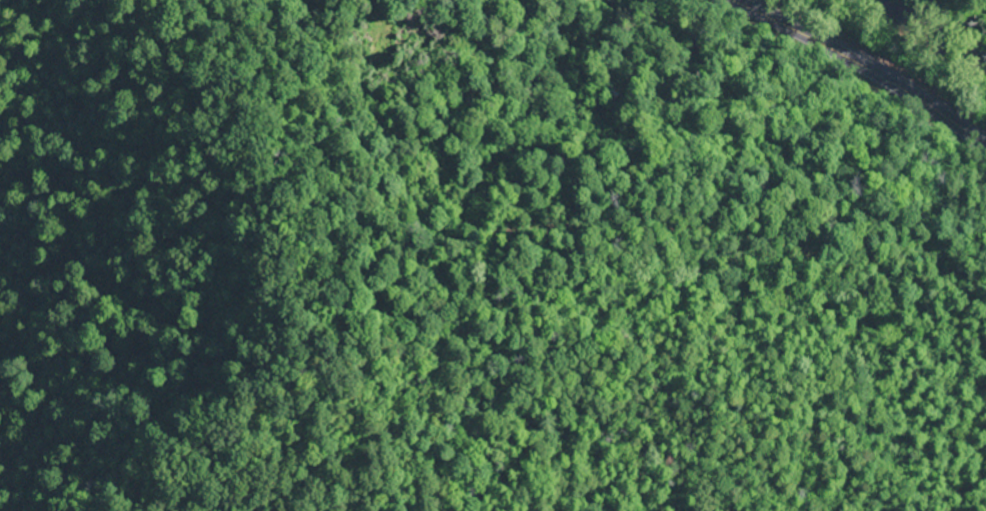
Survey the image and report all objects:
road: (865, 61)

